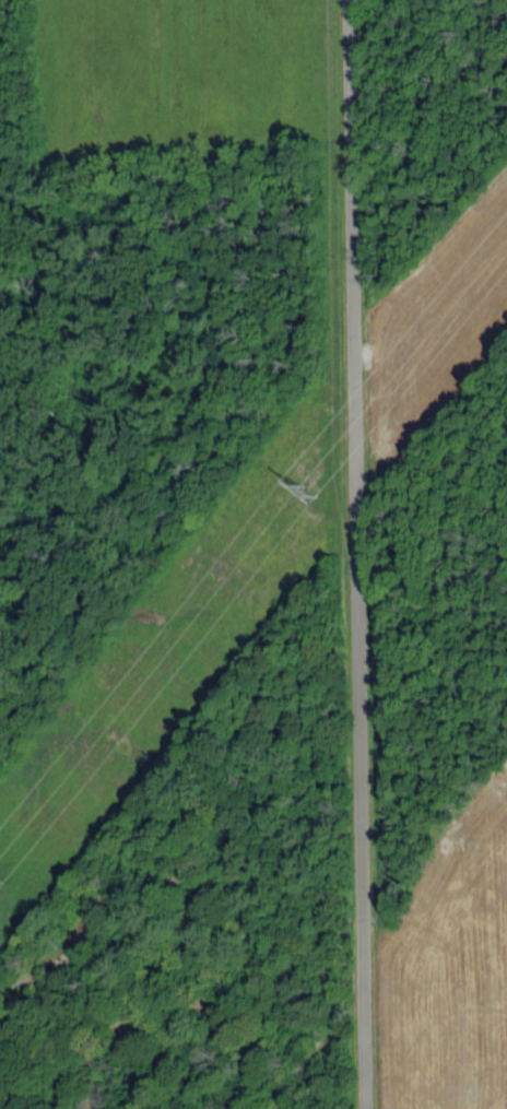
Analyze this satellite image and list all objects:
power tower: (303, 486)
road: (358, 554)

